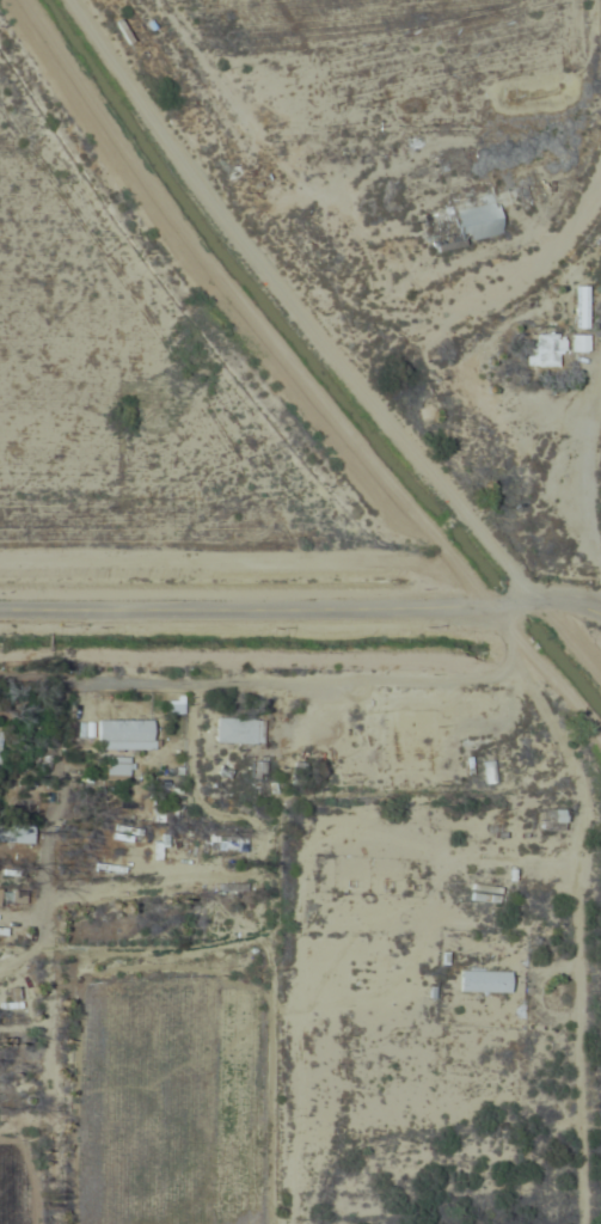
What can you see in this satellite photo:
building: (513, 195)
building: (478, 221)
building: (582, 306)
road: (292, 310)
building: (579, 342)
building: (547, 348)
road: (564, 593)
road: (264, 600)
building: (239, 728)
building: (123, 732)
building: (116, 764)
building: (484, 979)

